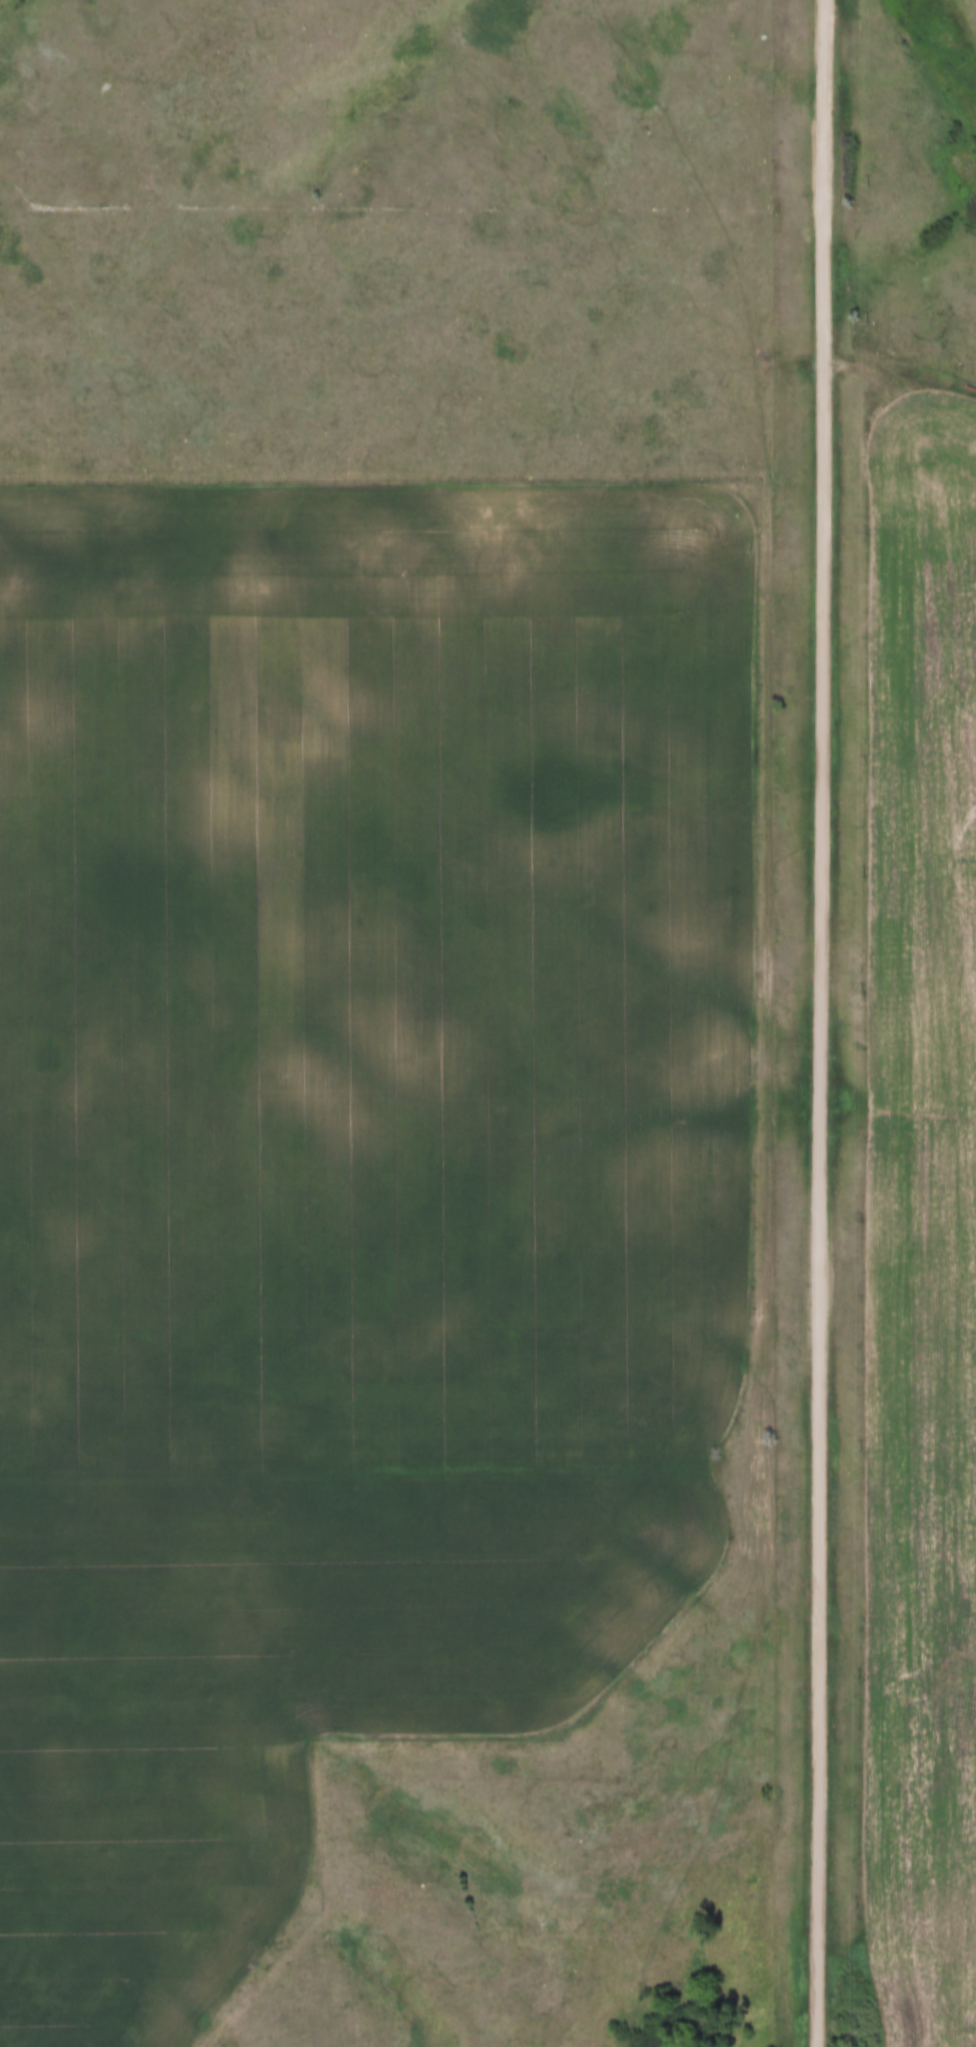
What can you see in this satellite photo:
road: (819, 1023)

